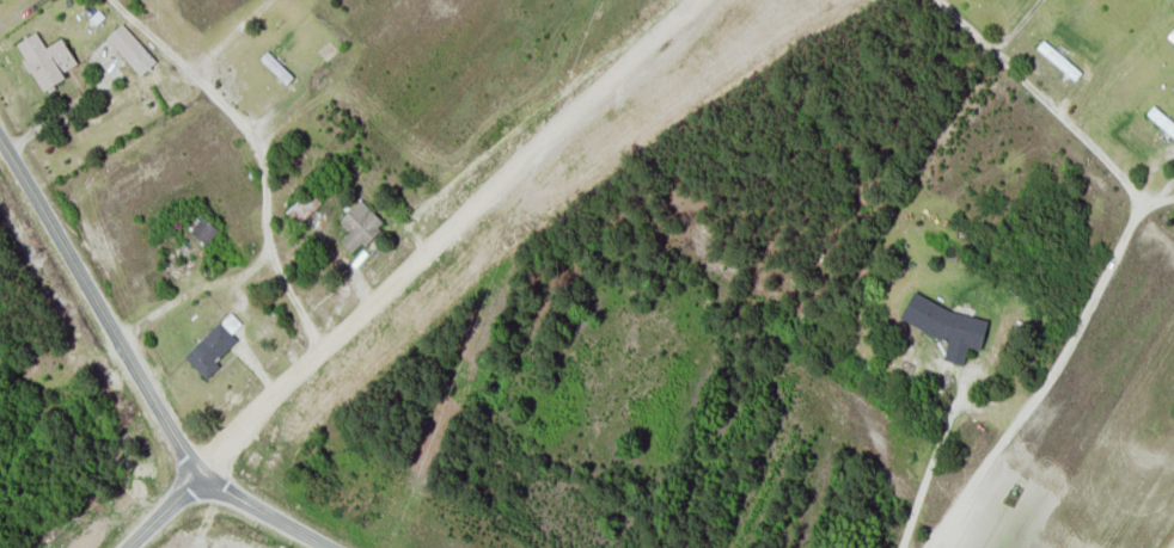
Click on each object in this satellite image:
building: (130, 48)
building: (45, 59)
building: (1173, 87)
building: (1161, 119)
road: (537, 166)
building: (302, 205)
building: (359, 224)
building: (203, 229)
road: (99, 307)
building: (947, 326)
building: (213, 344)
road: (1051, 369)
road: (263, 415)
road: (163, 512)
road: (265, 512)

